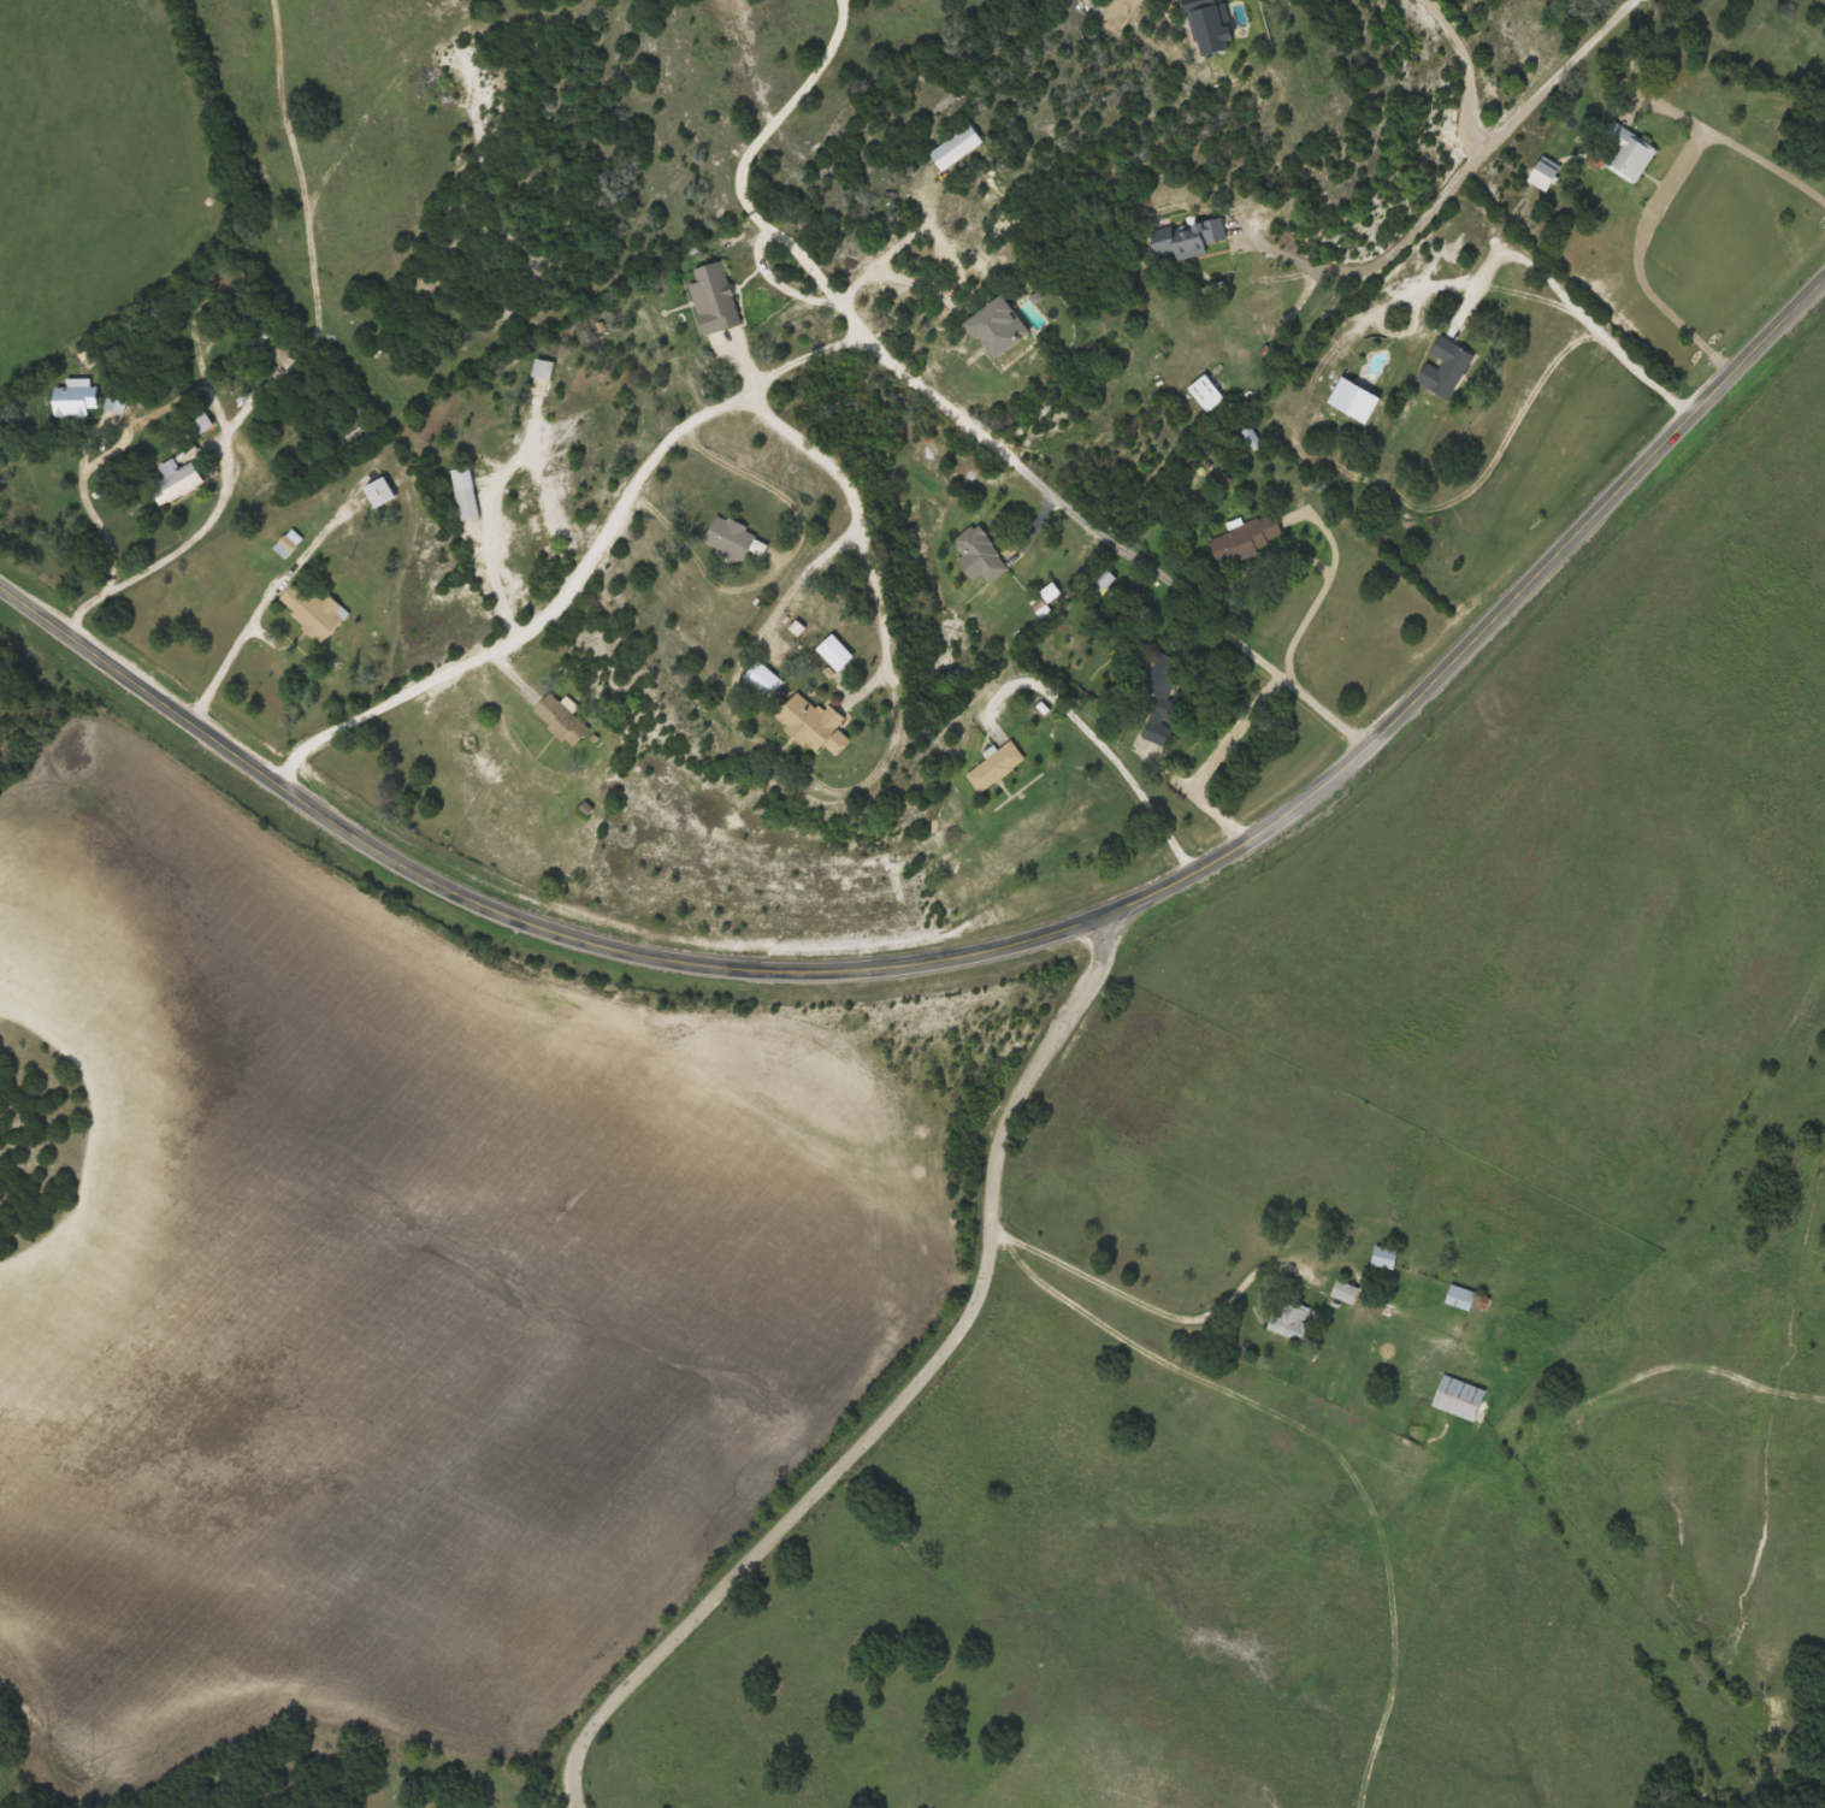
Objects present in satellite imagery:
road: (840, 1)
road: (841, 1)
road: (787, 108)
building: (956, 148)
building: (1623, 153)
road: (1470, 166)
building: (1545, 173)
building: (1197, 238)
road: (817, 266)
building: (717, 300)
building: (998, 327)
building: (260, 335)
road: (813, 353)
building: (1446, 368)
building: (544, 370)
building: (1206, 394)
building: (76, 398)
building: (177, 481)
building: (382, 492)
building: (467, 494)
building: (731, 538)
building: (1246, 540)
building: (980, 555)
building: (1104, 580)
building: (313, 609)
building: (766, 680)
building: (1160, 696)
building: (562, 720)
building: (815, 726)
building: (996, 767)
road: (985, 949)
building: (1384, 1258)
building: (1346, 1292)
building: (1460, 1298)
building: (1499, 1311)
building: (1292, 1322)
road: (921, 1392)
building: (1459, 1398)

